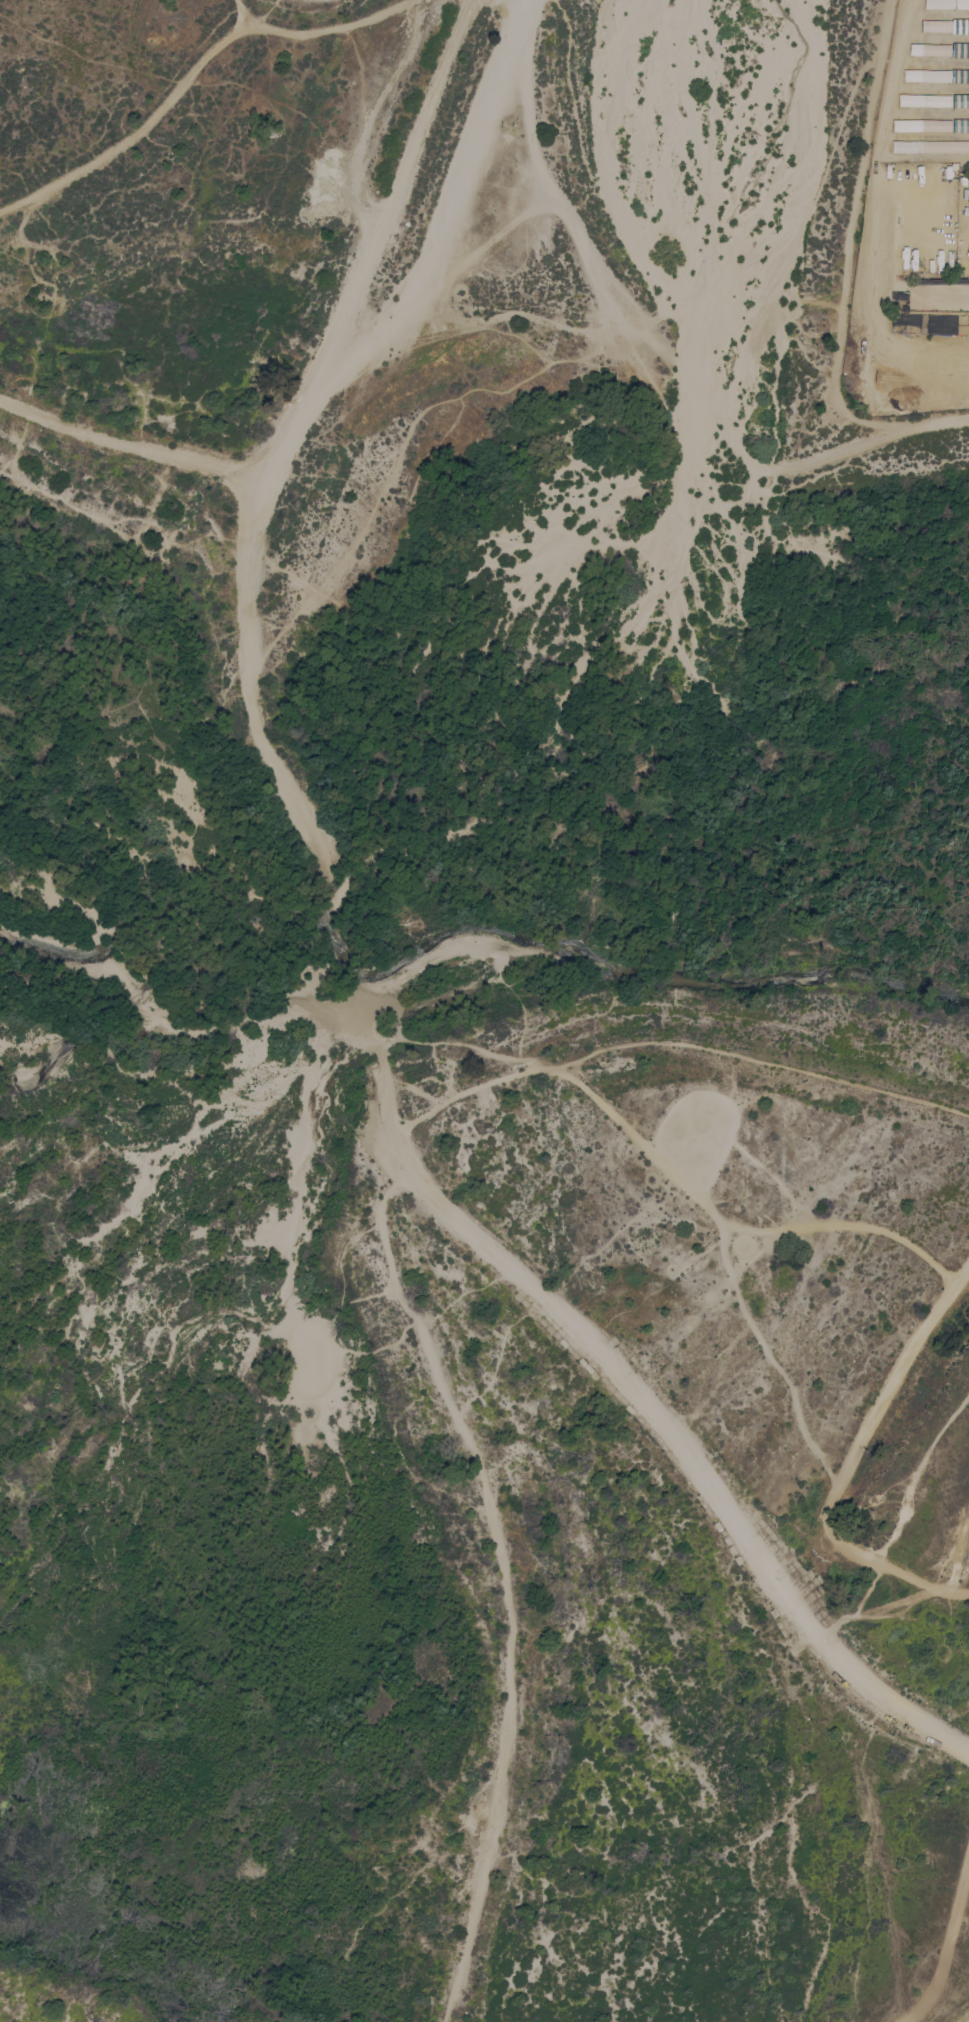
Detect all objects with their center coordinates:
road: (240, 14)
building: (959, 25)
building: (934, 26)
building: (960, 49)
building: (936, 50)
road: (188, 68)
building: (906, 75)
building: (960, 75)
building: (935, 76)
building: (936, 100)
building: (960, 101)
building: (905, 125)
building: (960, 125)
building: (954, 191)
building: (955, 214)
road: (433, 262)
road: (846, 269)
stadium: (939, 297)
road: (641, 356)
road: (130, 443)
road: (301, 809)
river: (467, 822)
road: (468, 1233)
road: (847, 1460)
road: (898, 1518)
road: (504, 1582)
road: (945, 1941)

